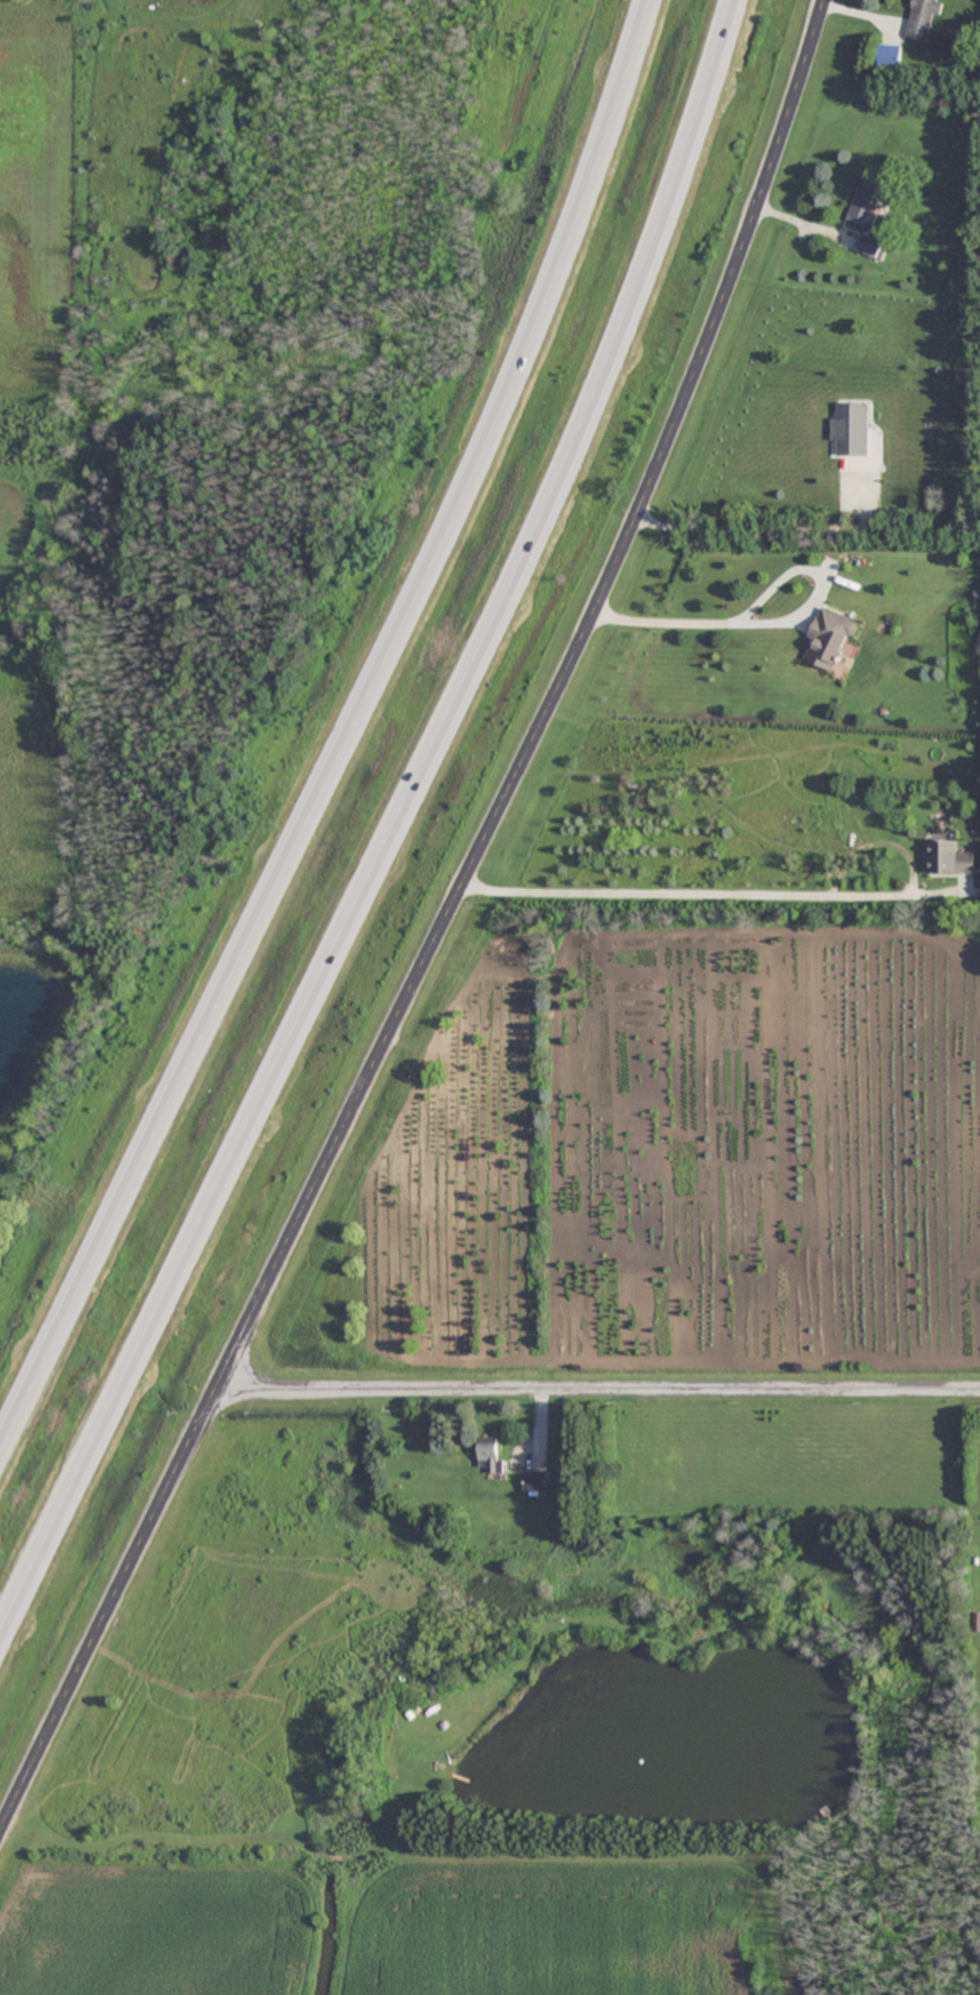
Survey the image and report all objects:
building: (924, 18)
building: (891, 55)
building: (866, 201)
building: (853, 429)
road: (762, 592)
building: (829, 639)
road: (347, 732)
road: (397, 830)
building: (951, 856)
road: (697, 894)
road: (440, 926)
road: (597, 1387)
building: (493, 1455)
building: (534, 1481)

